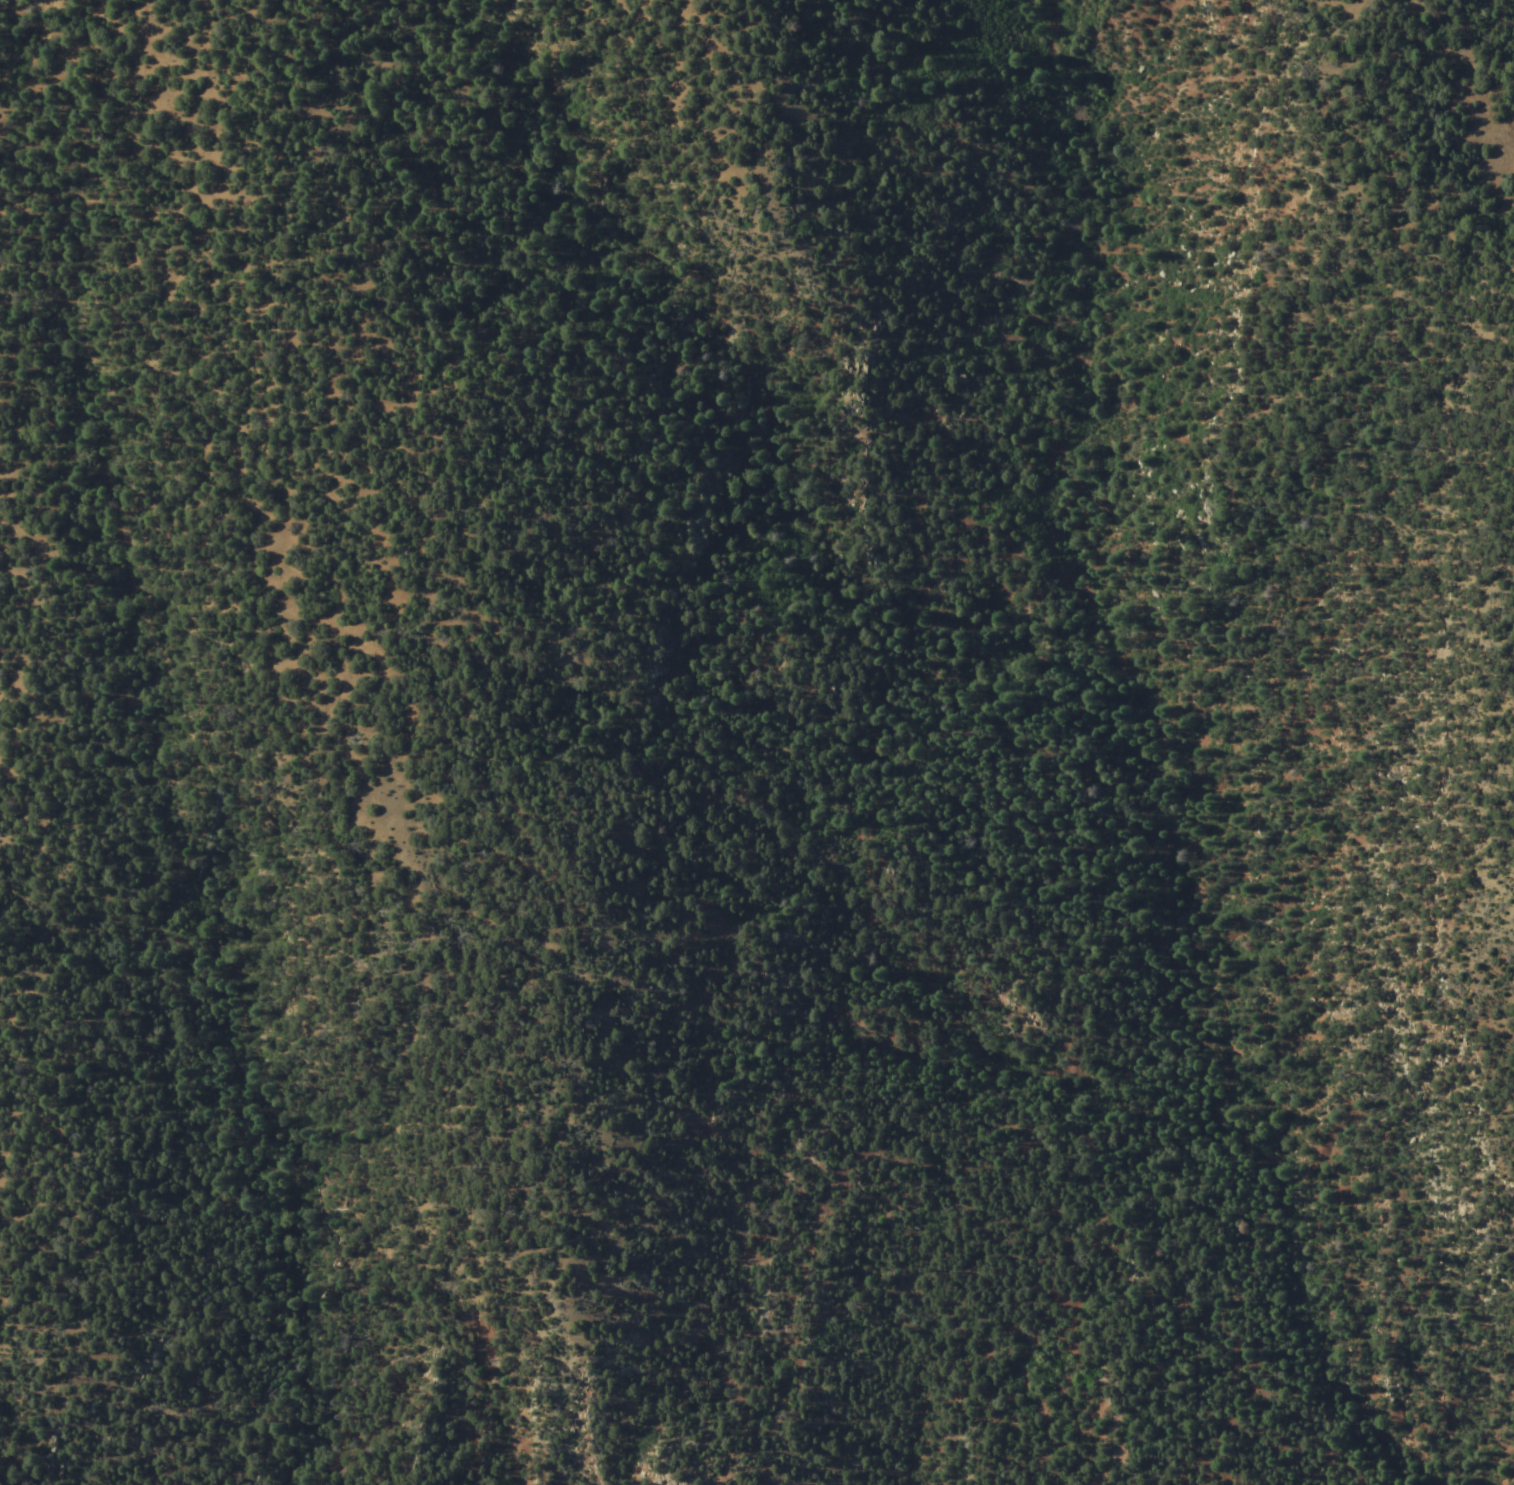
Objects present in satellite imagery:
road: (30, 57)

